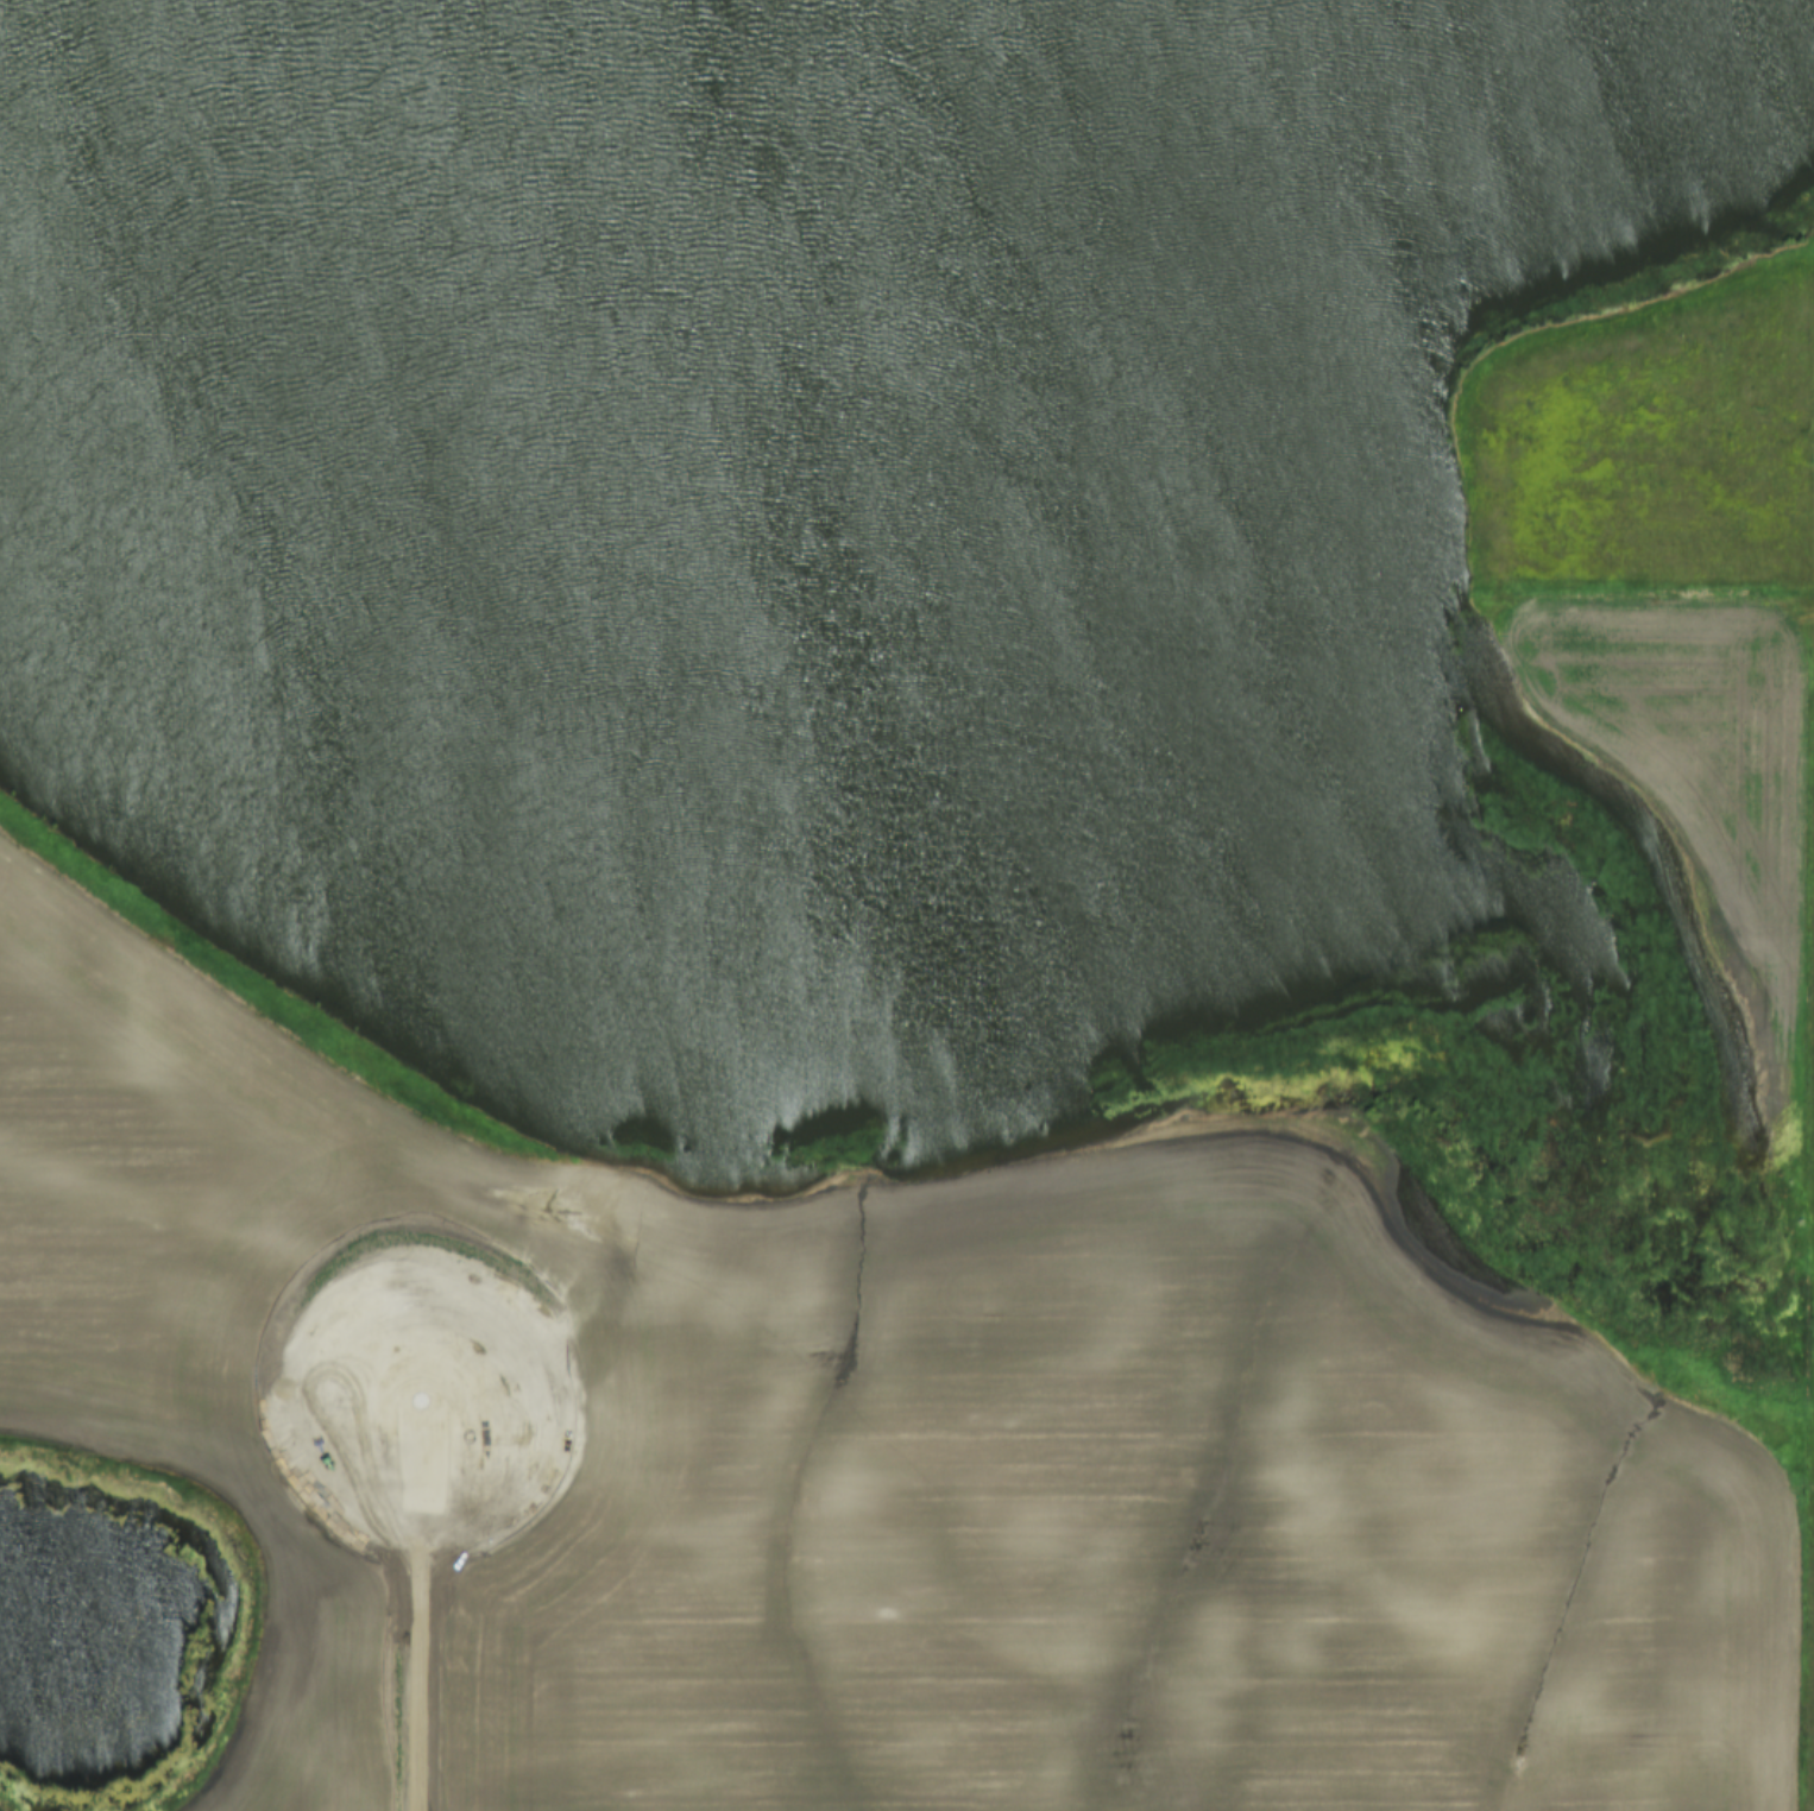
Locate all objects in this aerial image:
road: (949, 1112)
wind turbine: (427, 1402)

